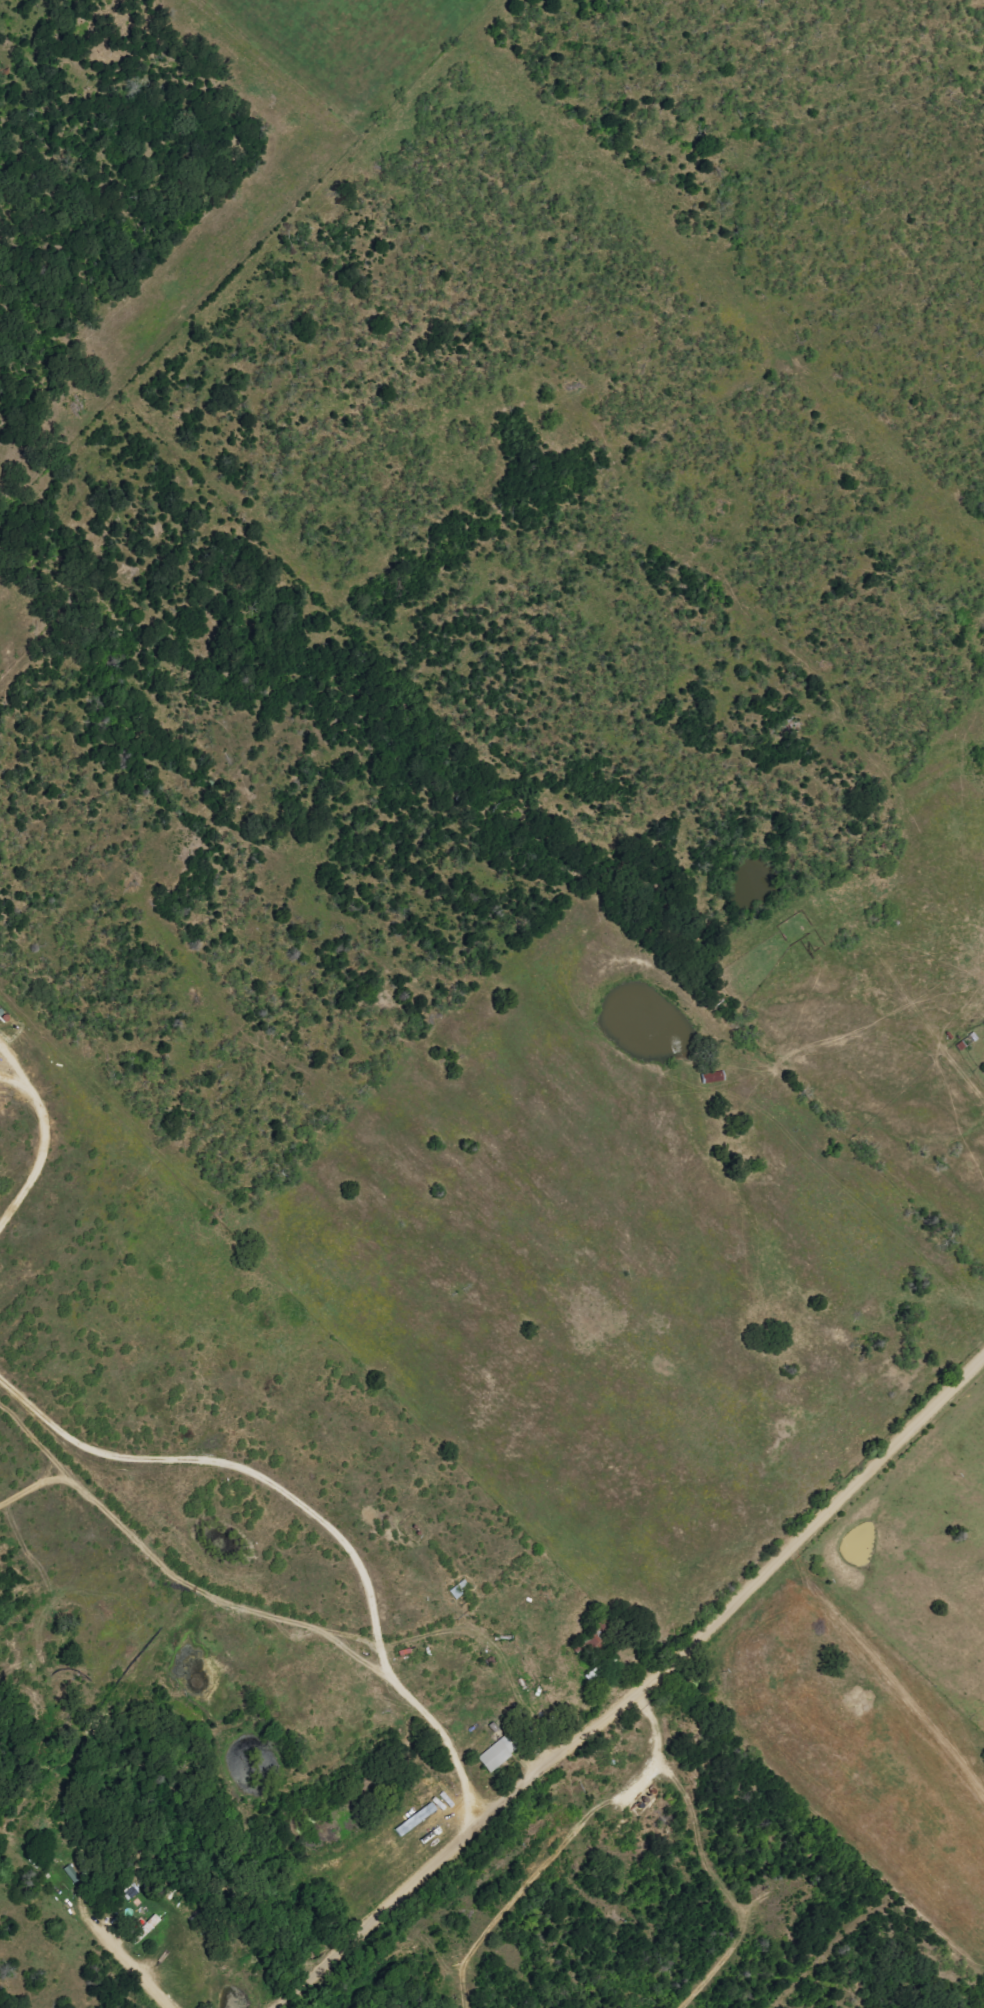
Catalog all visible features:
road: (297, 106)
road: (623, 1467)
road: (641, 1688)
road: (372, 1725)
building: (496, 1754)

